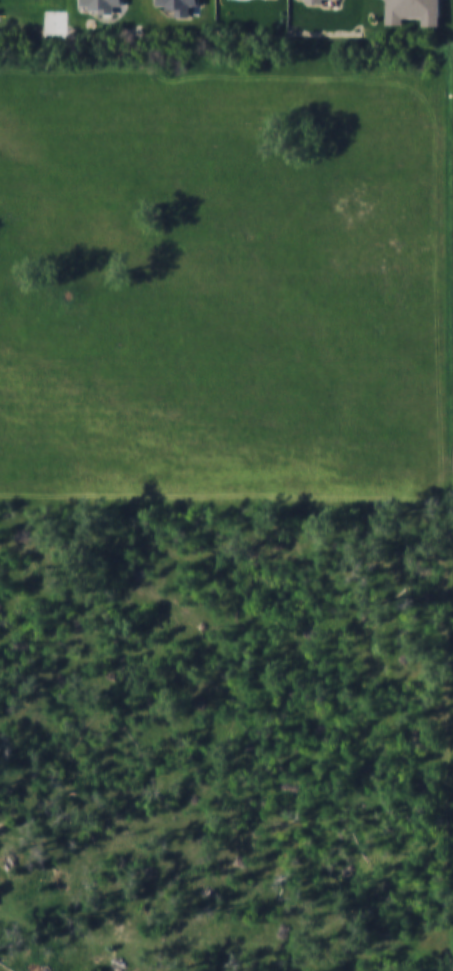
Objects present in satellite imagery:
building: (178, 5)
building: (412, 10)

